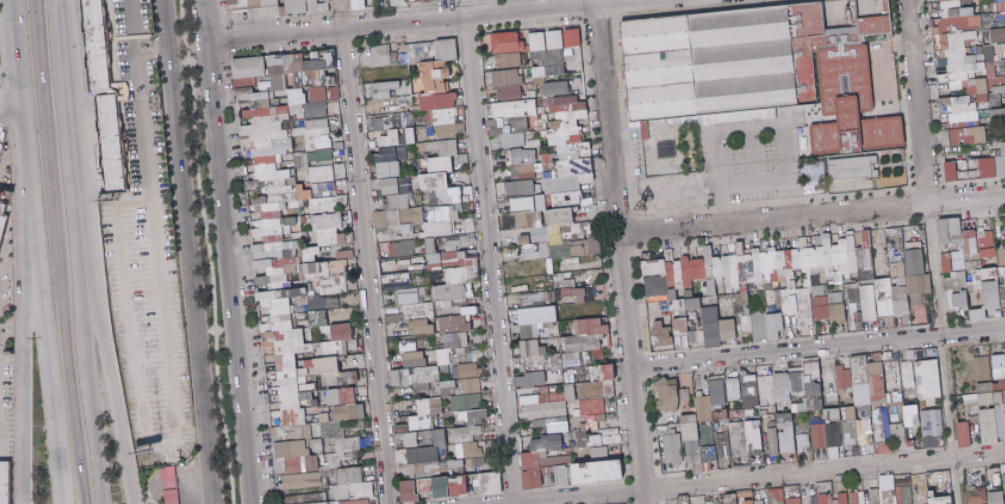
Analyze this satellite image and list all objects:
building: (428, 0)
road: (595, 1)
building: (251, 3)
building: (968, 3)
building: (357, 4)
building: (998, 5)
building: (301, 6)
building: (884, 7)
road: (339, 14)
building: (501, 42)
building: (551, 50)
building: (969, 52)
building: (382, 55)
building: (507, 60)
building: (755, 73)
building: (506, 77)
building: (435, 82)
building: (554, 88)
building: (381, 89)
building: (508, 92)
building: (104, 94)
road: (917, 101)
building: (956, 109)
building: (997, 115)
building: (510, 120)
building: (392, 123)
building: (961, 135)
building: (566, 143)
building: (281, 144)
building: (441, 147)
building: (390, 153)
building: (312, 158)
building: (547, 159)
building: (521, 162)
building: (320, 179)
building: (441, 183)
building: (395, 185)
building: (518, 187)
building: (319, 200)
road: (151, 218)
road: (180, 251)
road: (191, 251)
road: (207, 251)
road: (59, 252)
road: (223, 252)

